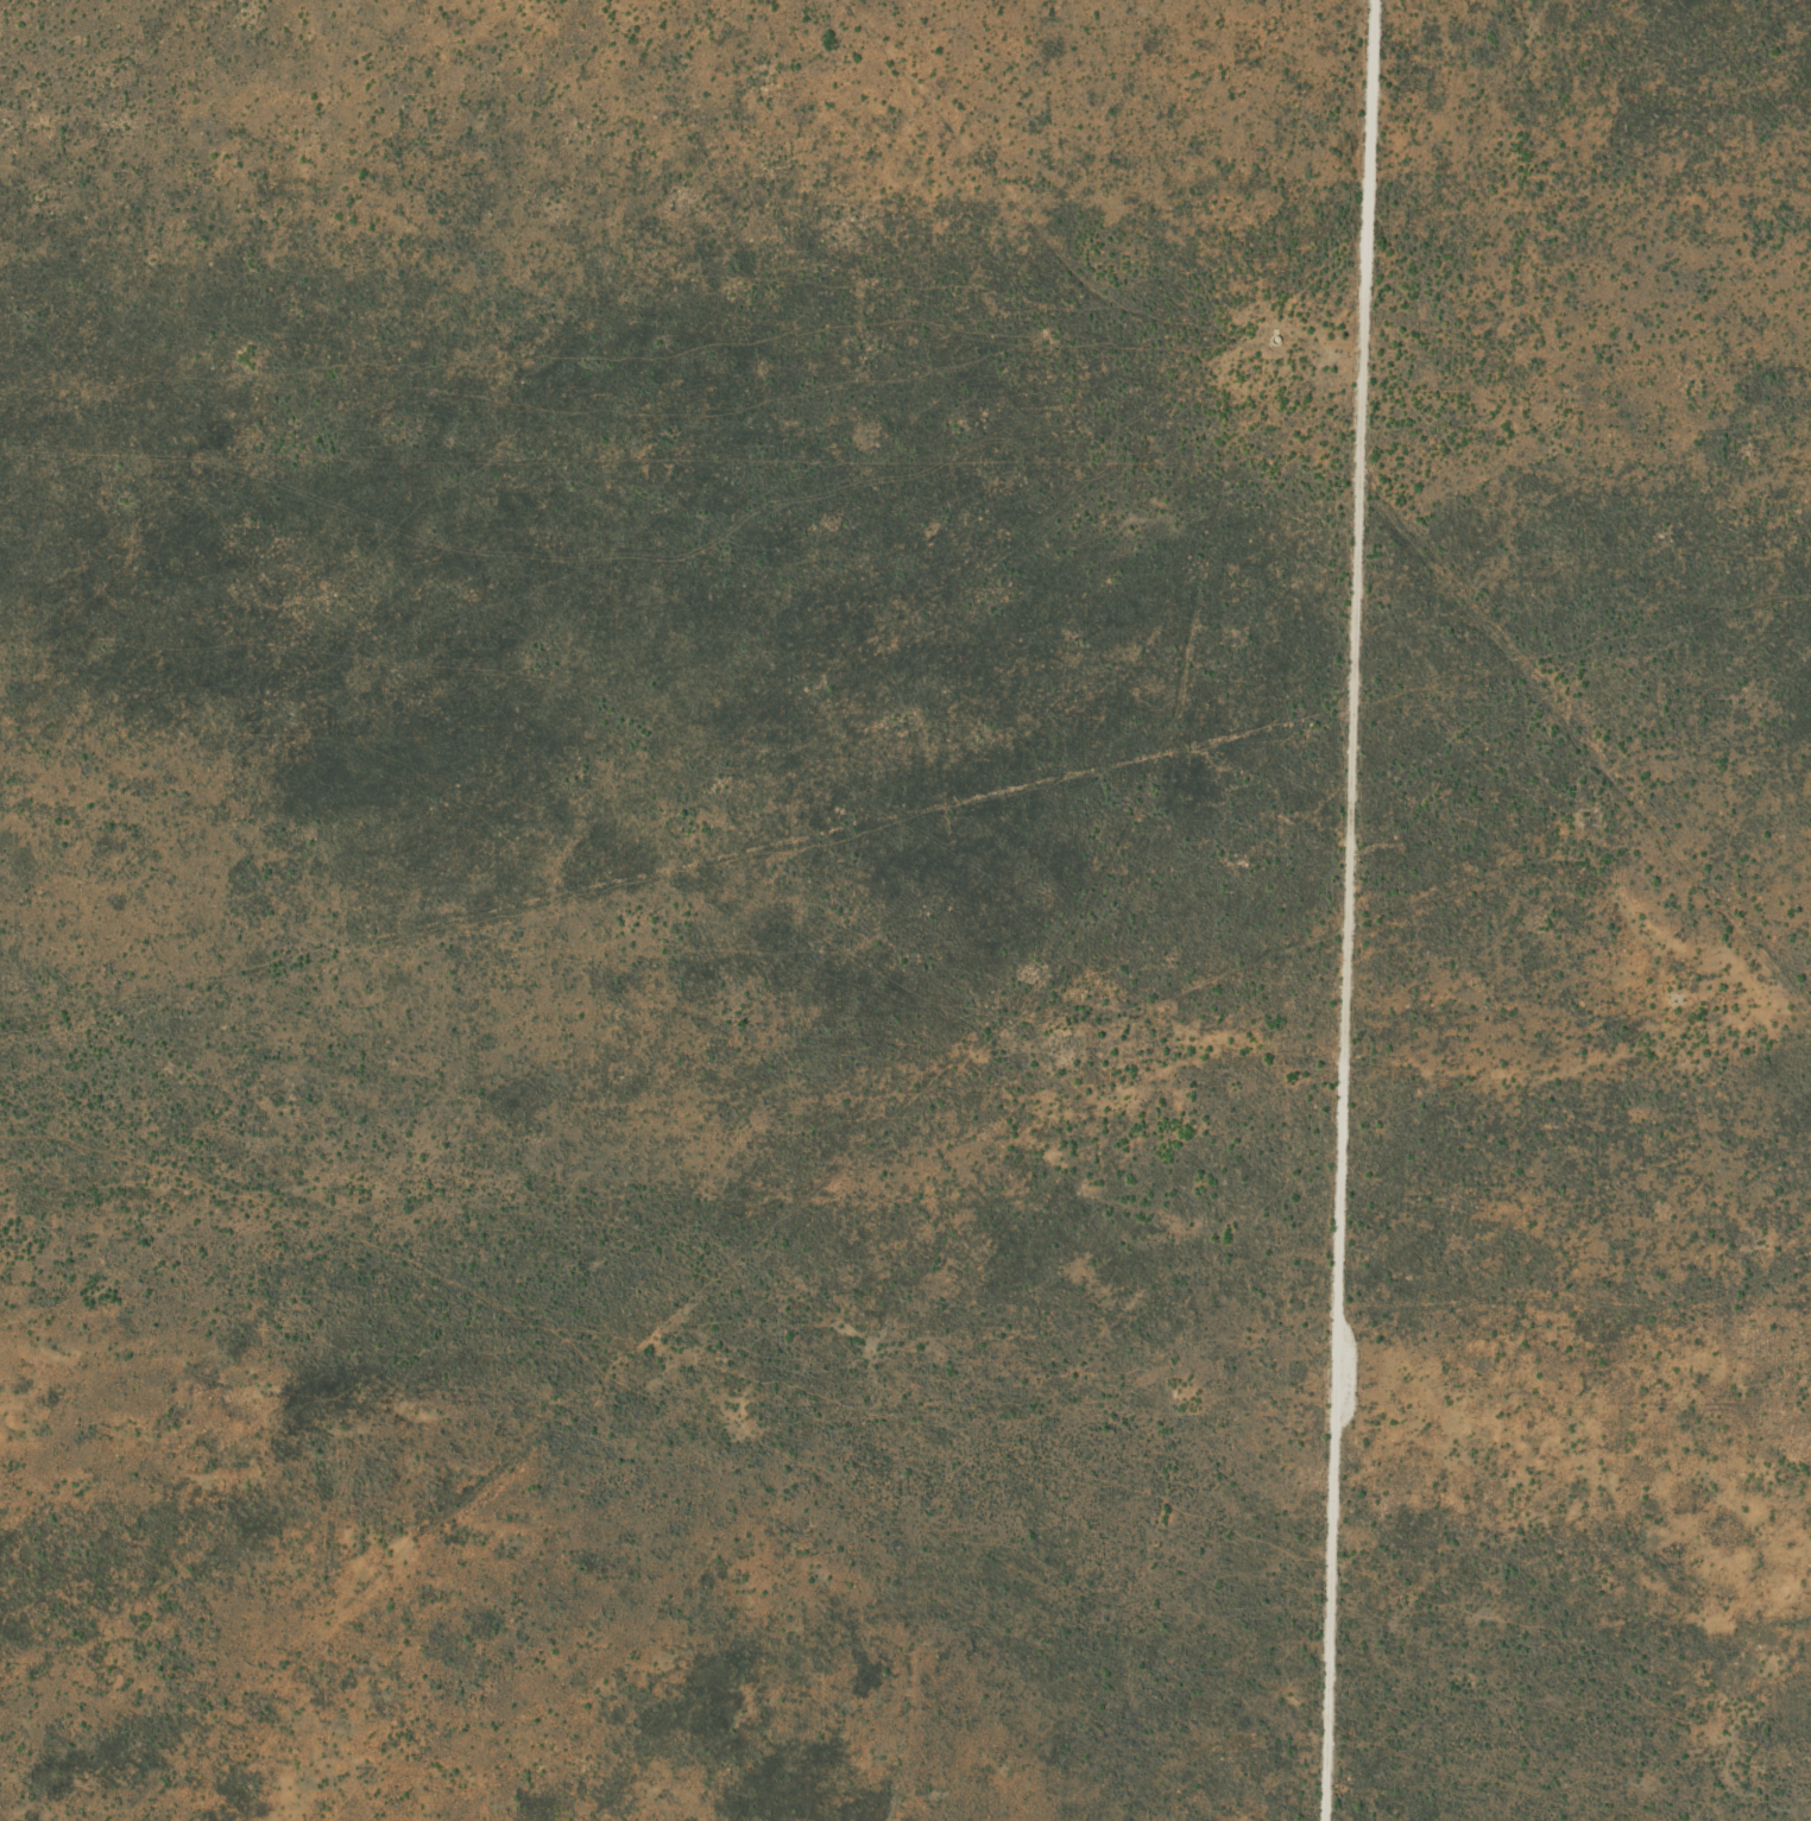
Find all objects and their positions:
road: (1243, 400)
road: (772, 1188)

